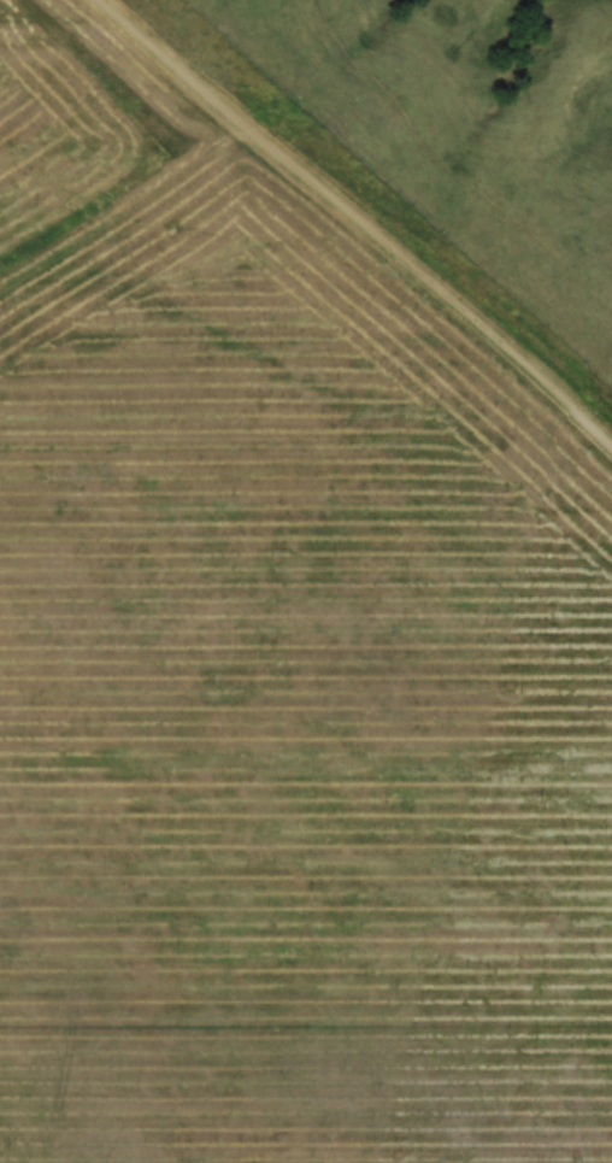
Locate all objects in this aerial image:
road: (404, 184)

